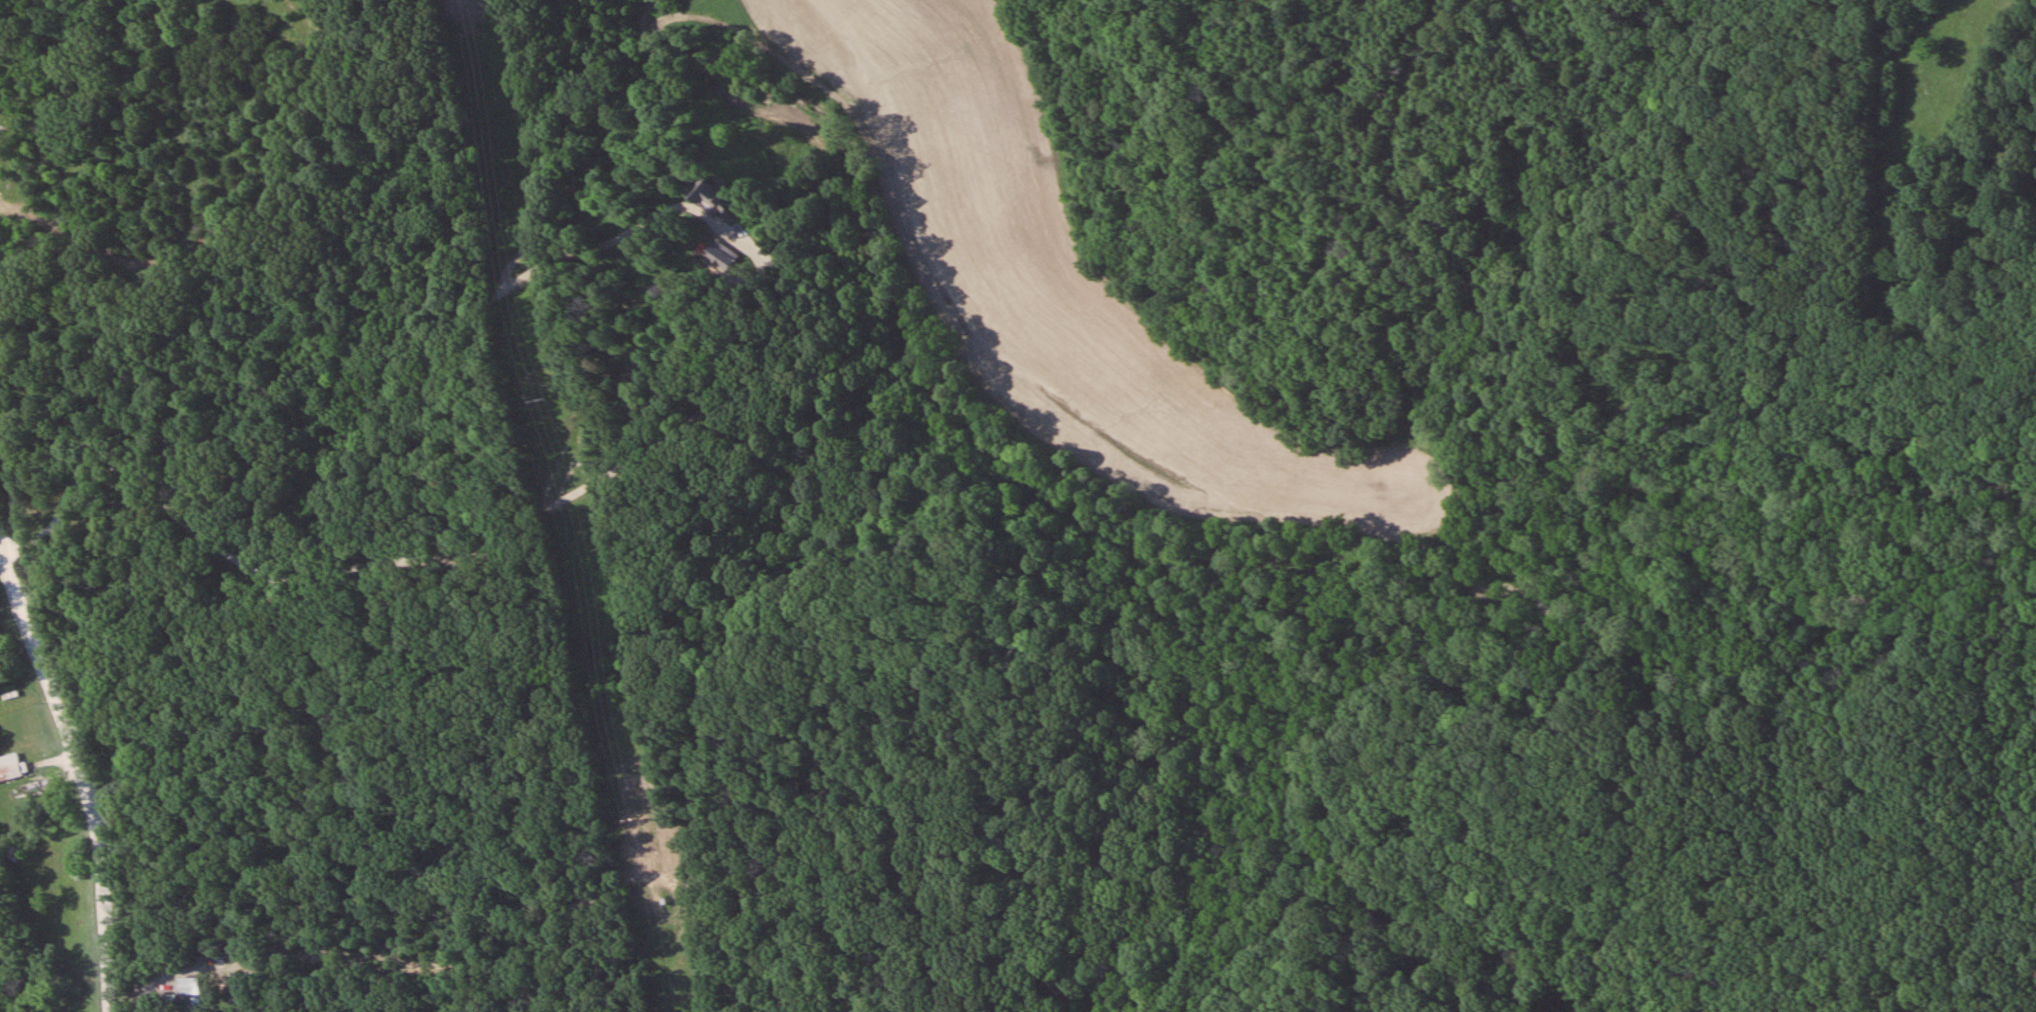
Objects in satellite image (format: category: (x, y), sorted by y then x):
building: (712, 197)
power tower: (542, 400)
road: (85, 745)
building: (11, 768)
power tower: (628, 817)
building: (192, 993)

